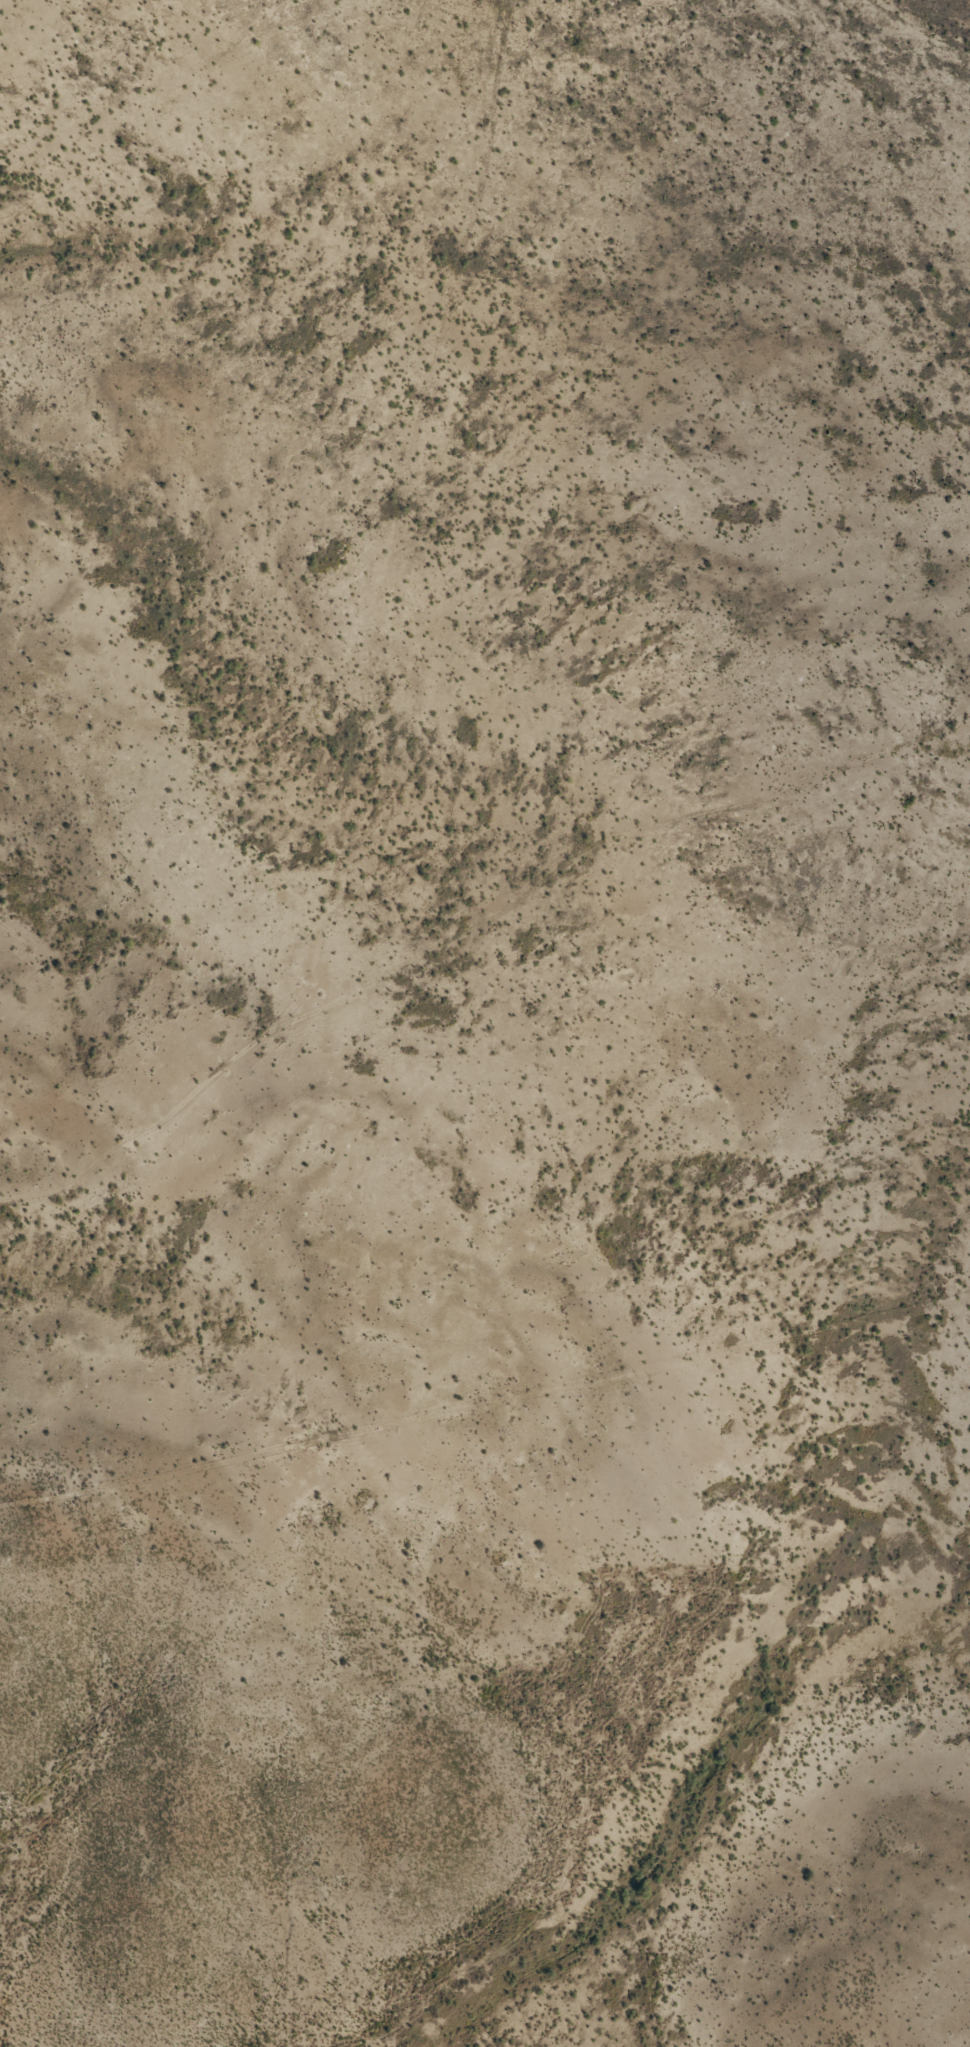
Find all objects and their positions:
road: (401, 707)
road: (650, 847)

